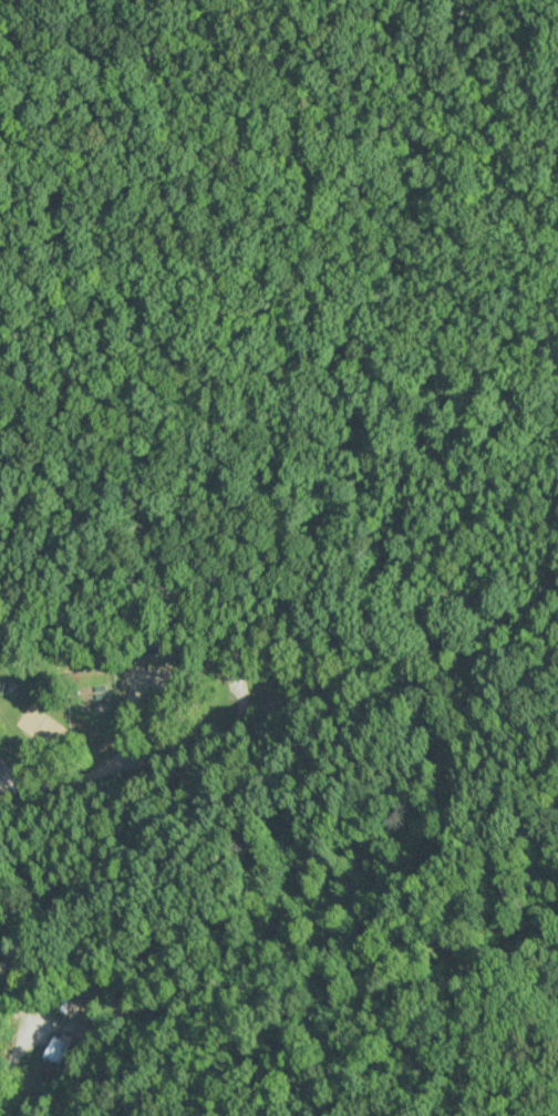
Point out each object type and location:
building: (55, 1051)

